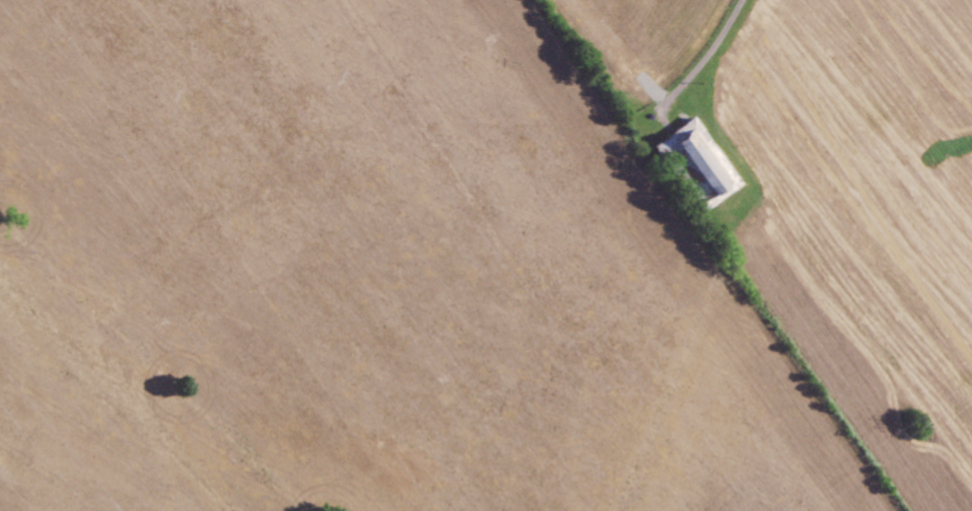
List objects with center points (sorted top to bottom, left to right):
road: (708, 52)
power tower: (917, 425)

